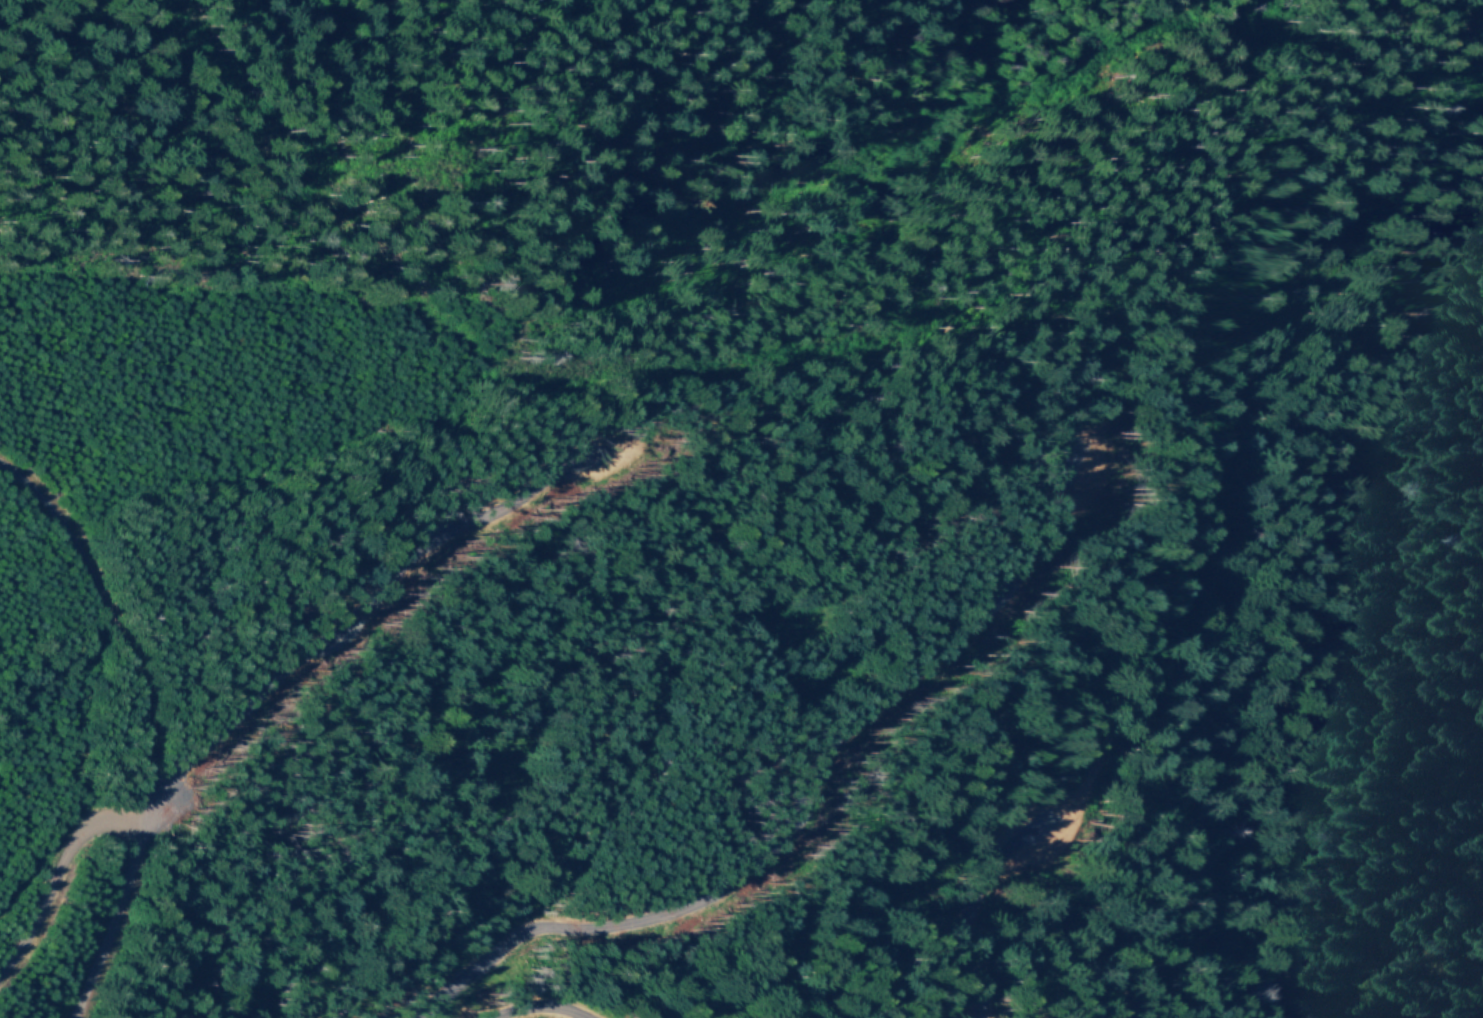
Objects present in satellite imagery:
road: (138, 701)

